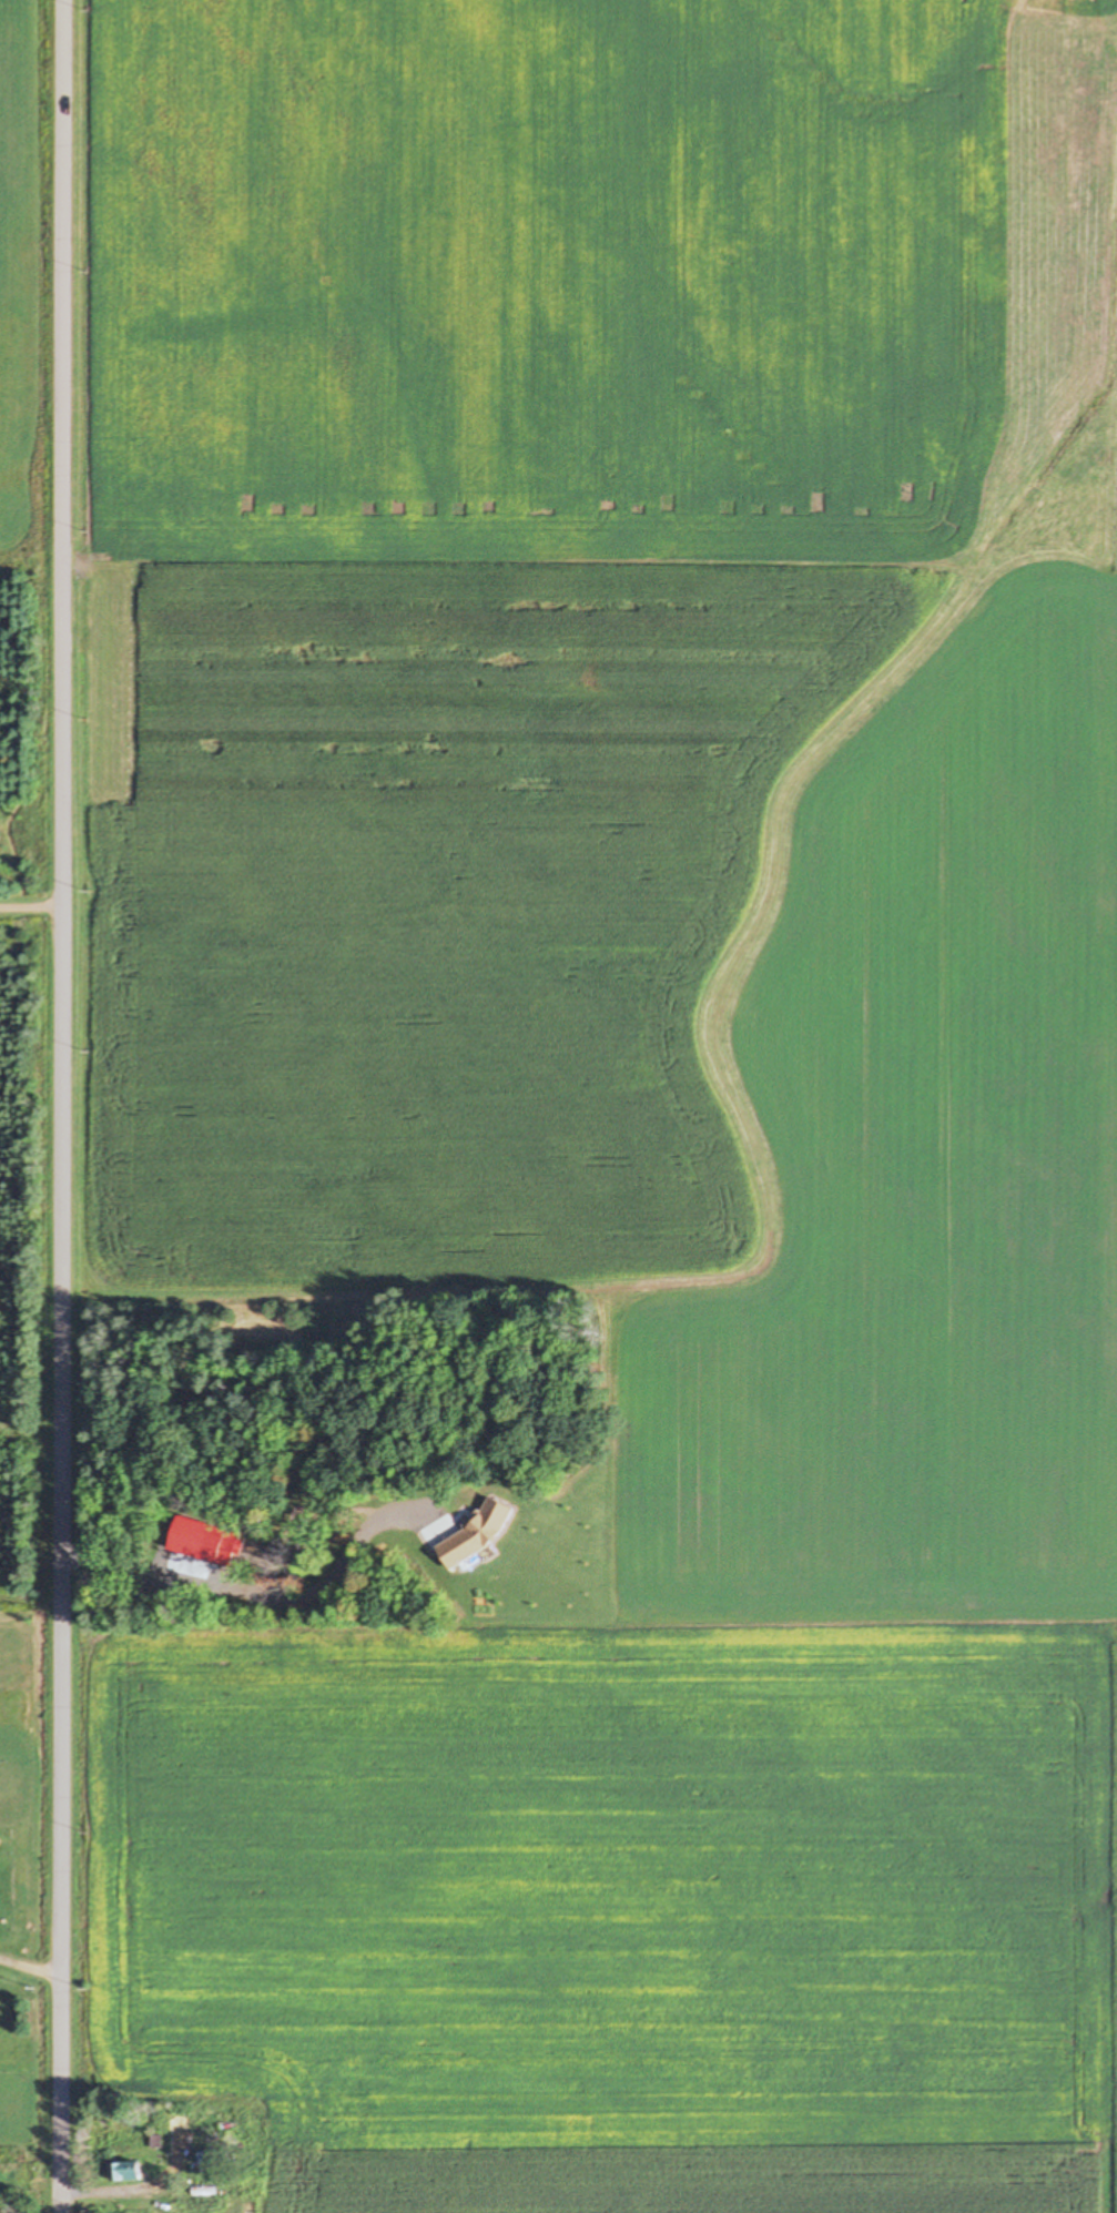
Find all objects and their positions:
road: (31, 906)
road: (61, 1106)
building: (209, 2155)
building: (128, 2168)

